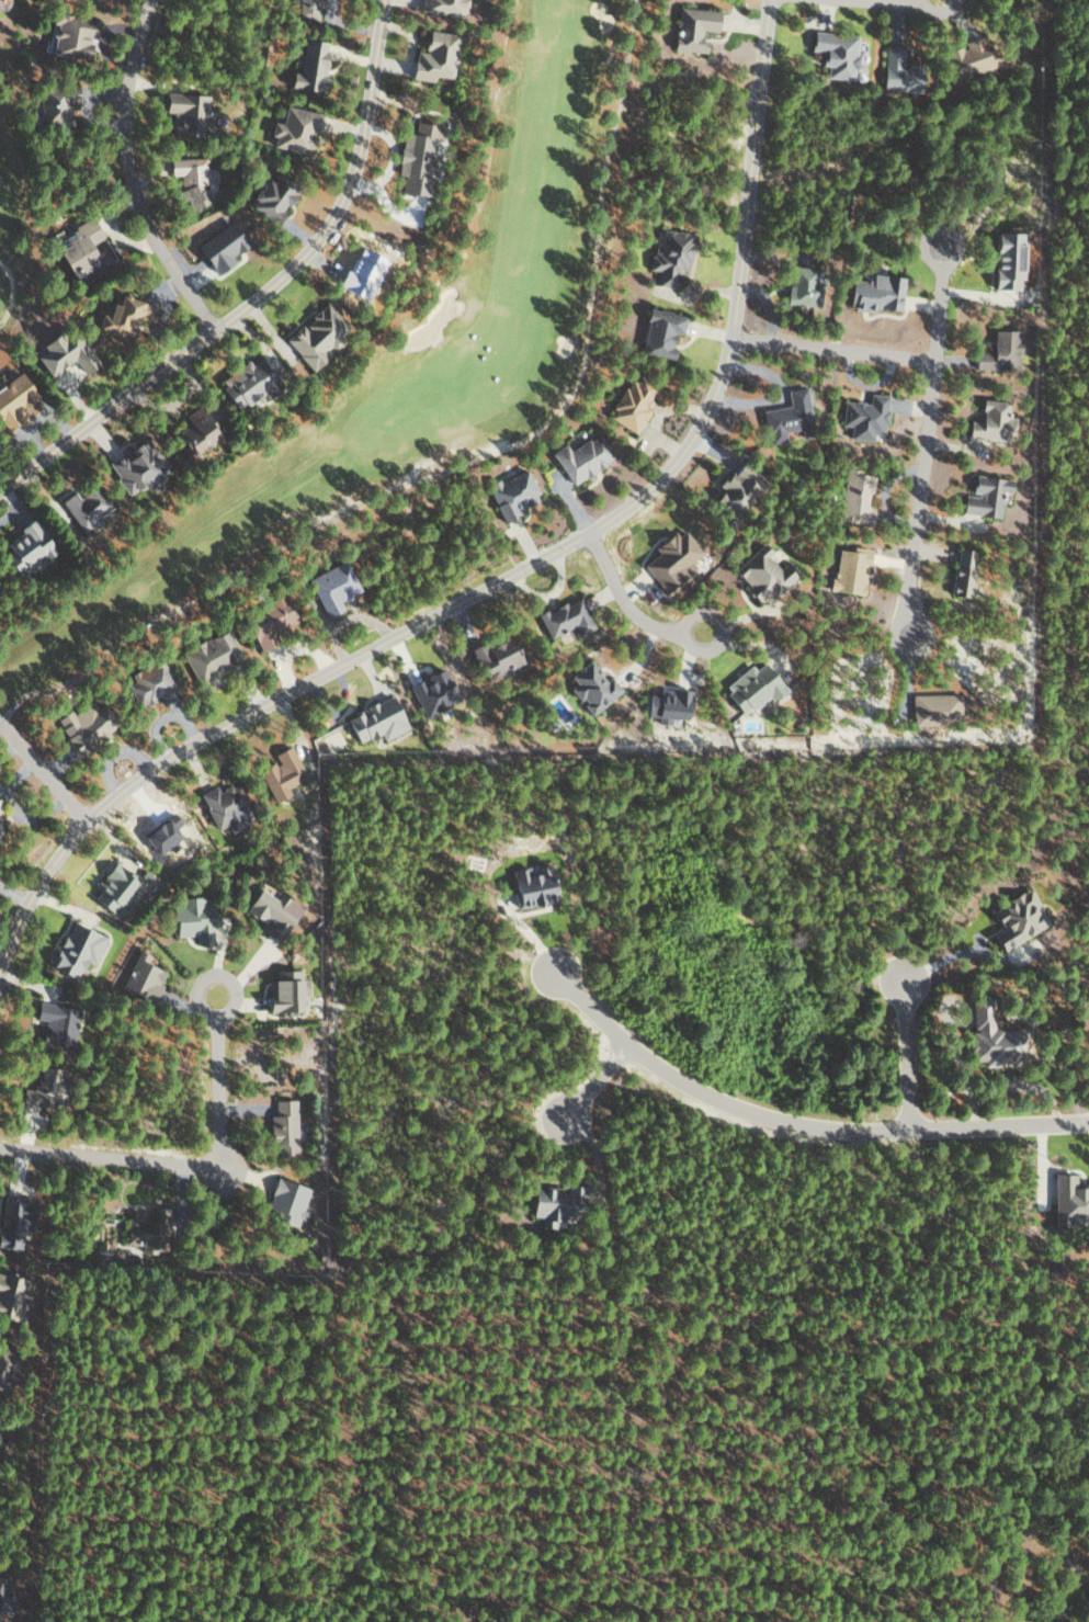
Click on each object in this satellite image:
road: (872, 3)
building: (442, 7)
building: (307, 9)
building: (692, 27)
building: (69, 35)
building: (833, 52)
building: (433, 56)
building: (967, 57)
building: (308, 67)
building: (898, 70)
building: (53, 104)
building: (184, 112)
building: (294, 129)
building: (417, 158)
road: (128, 175)
building: (191, 180)
building: (271, 196)
park: (15, 220)
building: (218, 248)
building: (82, 251)
building: (669, 256)
building: (802, 285)
road: (12, 292)
building: (873, 292)
road: (264, 293)
building: (123, 315)
building: (658, 331)
building: (314, 337)
road: (832, 351)
building: (998, 352)
building: (61, 353)
park: (405, 360)
building: (245, 383)
building: (12, 399)
building: (631, 404)
building: (786, 417)
building: (864, 417)
building: (990, 421)
building: (193, 430)
road: (924, 443)
building: (580, 457)
building: (136, 466)
road: (461, 466)
building: (736, 488)
building: (511, 494)
building: (855, 495)
building: (984, 496)
building: (83, 506)
building: (25, 547)
building: (670, 558)
building: (848, 570)
building: (961, 572)
building: (760, 574)
road: (511, 578)
building: (331, 587)
road: (628, 611)
building: (565, 617)
building: (268, 621)
building: (209, 656)
building: (494, 657)
building: (148, 683)
building: (590, 687)
building: (750, 688)
building: (431, 692)
building: (667, 705)
building: (934, 708)
building: (373, 721)
building: (80, 727)
building: (281, 773)
road: (41, 774)
building: (225, 807)
building: (531, 885)
building: (112, 889)
building: (272, 911)
building: (191, 918)
building: (1016, 918)
building: (73, 950)
building: (140, 977)
building: (283, 991)
building: (56, 1022)
building: (992, 1039)
road: (903, 1053)
road: (589, 1081)
building: (42, 1089)
road: (795, 1124)
building: (282, 1127)
road: (179, 1167)
building: (1069, 1201)
building: (286, 1202)
building: (553, 1203)
building: (14, 1220)
building: (147, 1232)
building: (11, 1295)
building: (7, 1363)
building: (3, 1596)

